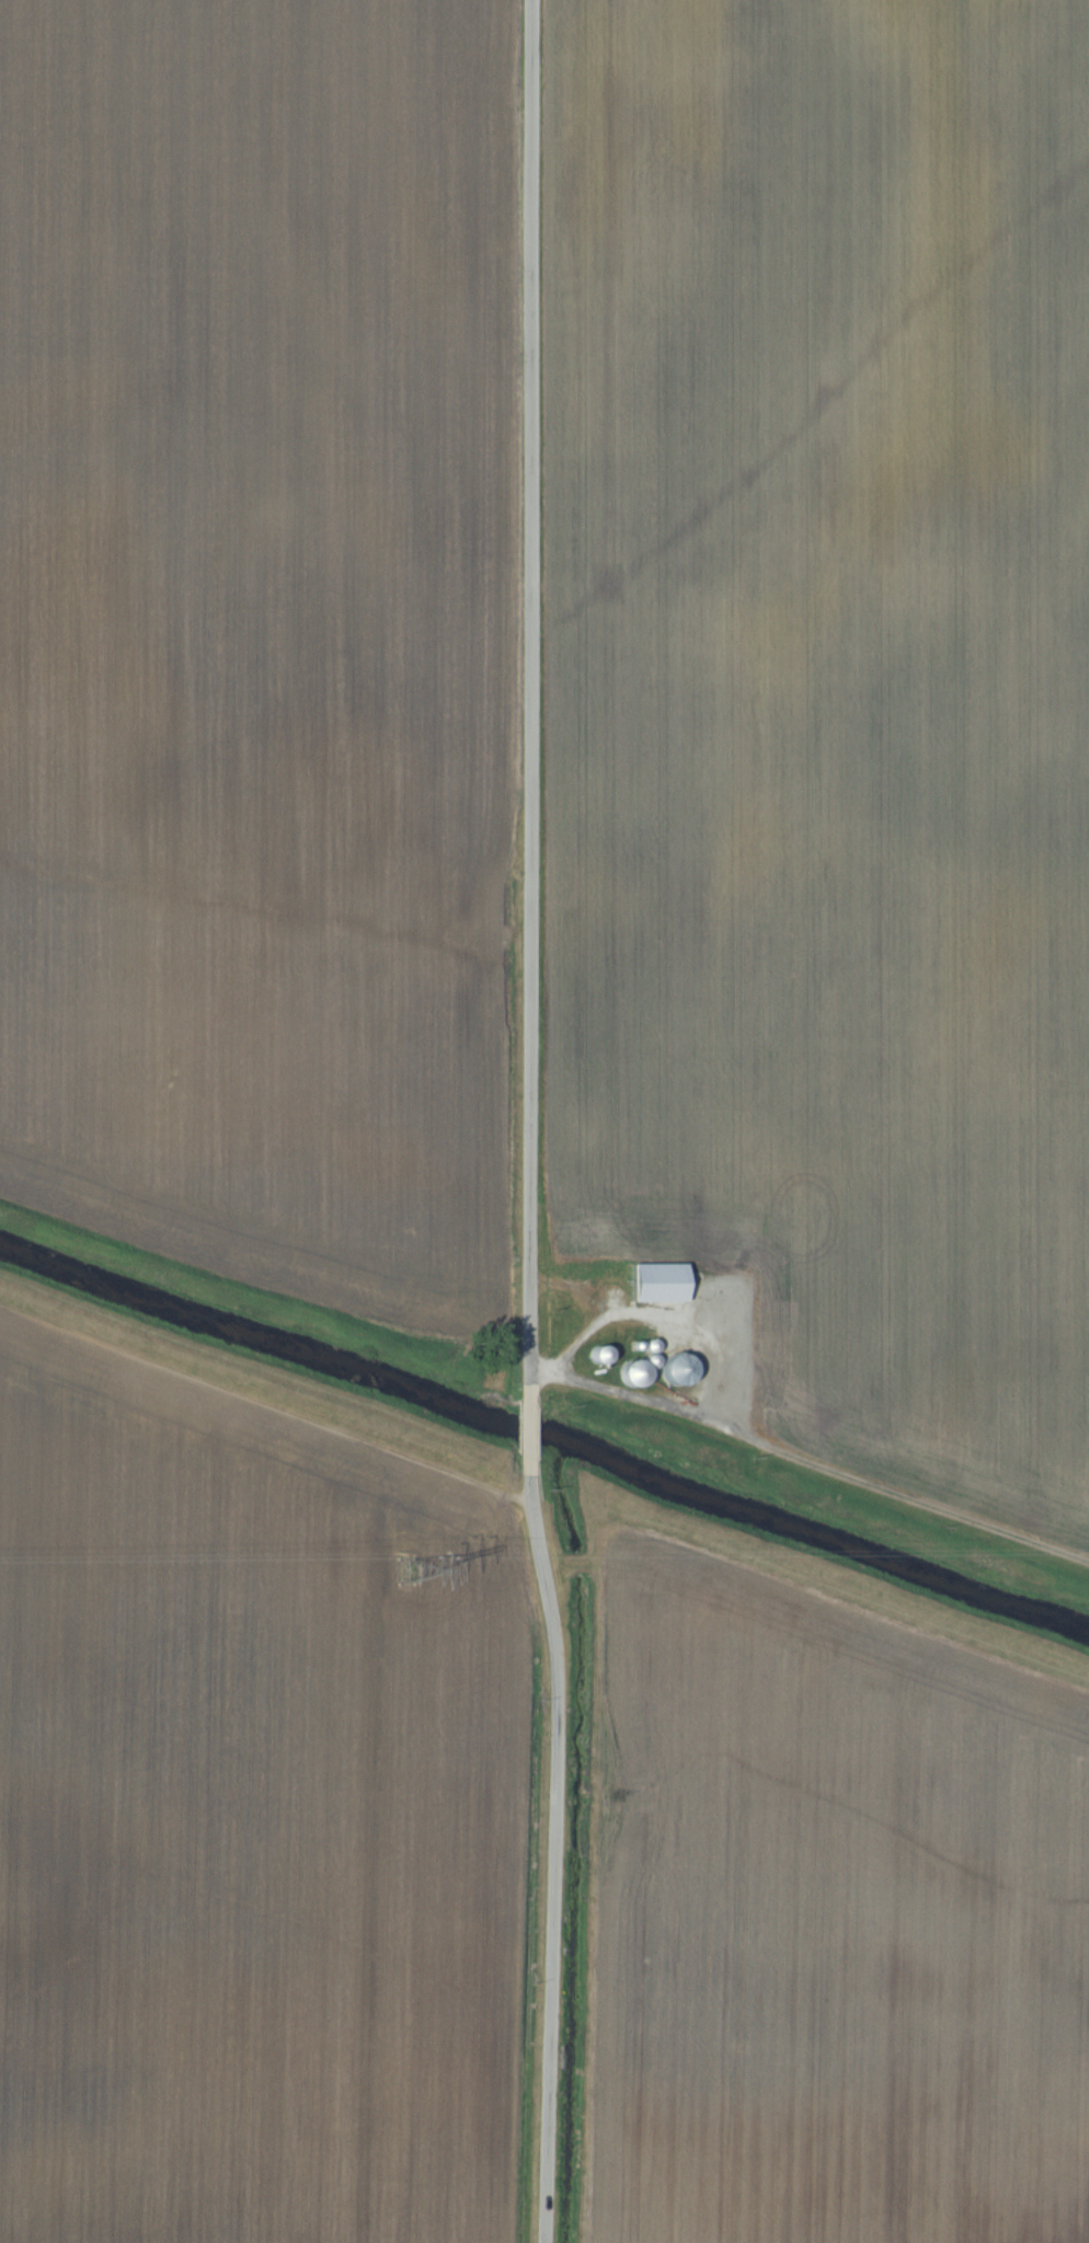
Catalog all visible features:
road: (531, 1123)
building: (658, 1285)
road: (576, 1288)
road: (701, 1343)
power tower: (402, 1555)

